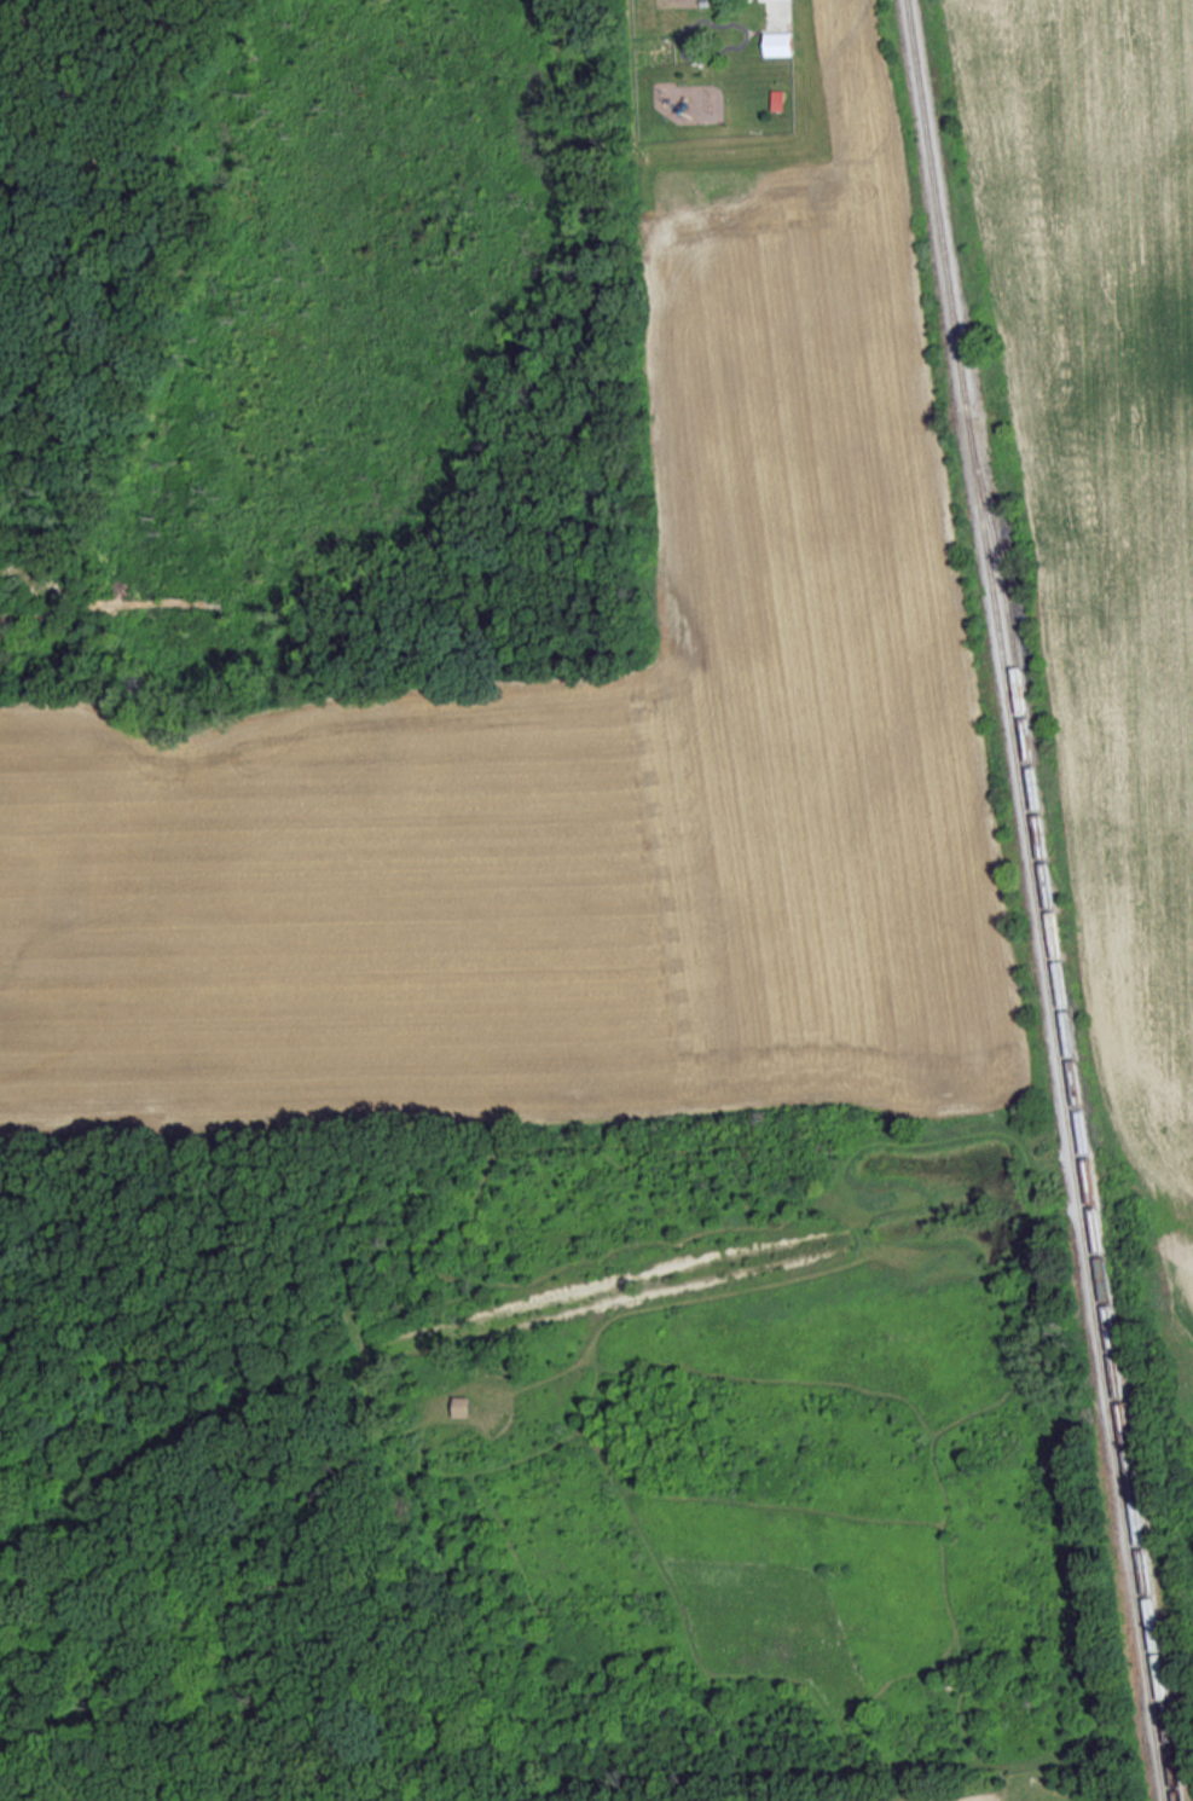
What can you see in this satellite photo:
building: (780, 42)
railway: (1036, 900)
railway: (1079, 1112)
building: (469, 1402)
park: (544, 1466)

